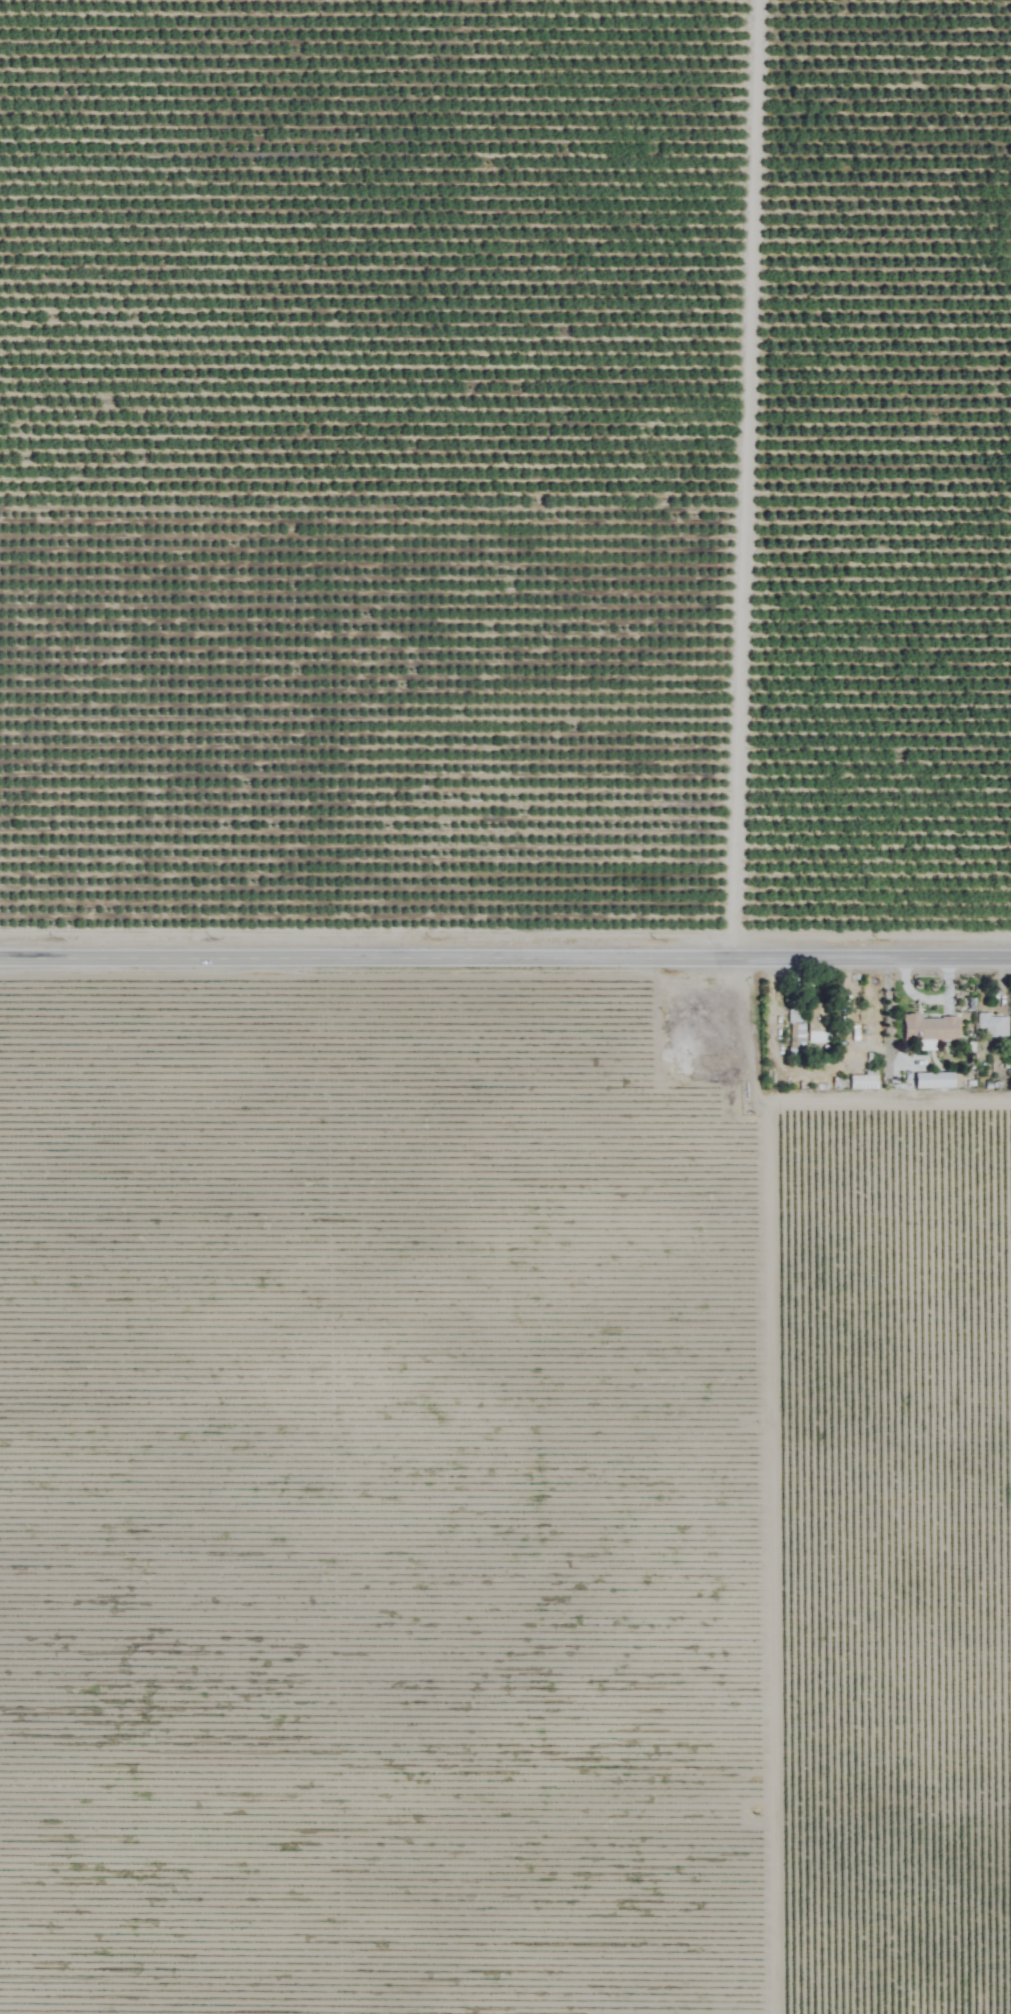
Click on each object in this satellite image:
road: (741, 478)
road: (505, 956)
road: (883, 1013)
building: (929, 1028)
building: (926, 1081)
road: (765, 1483)

